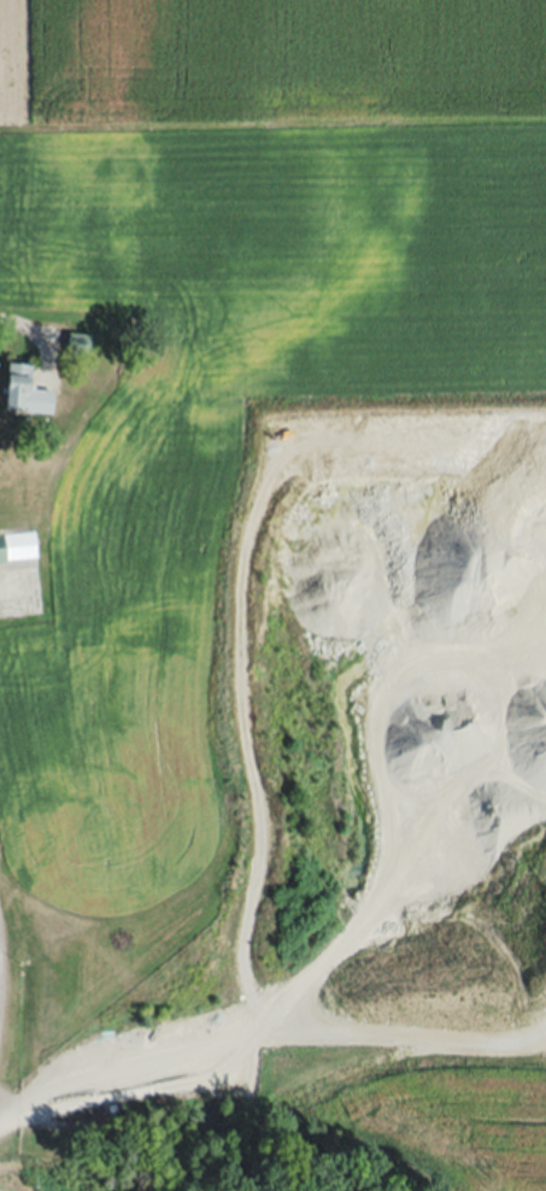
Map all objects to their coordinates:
road: (16, 323)
building: (78, 344)
building: (17, 386)
building: (16, 545)
quarry: (312, 937)
road: (6, 982)

